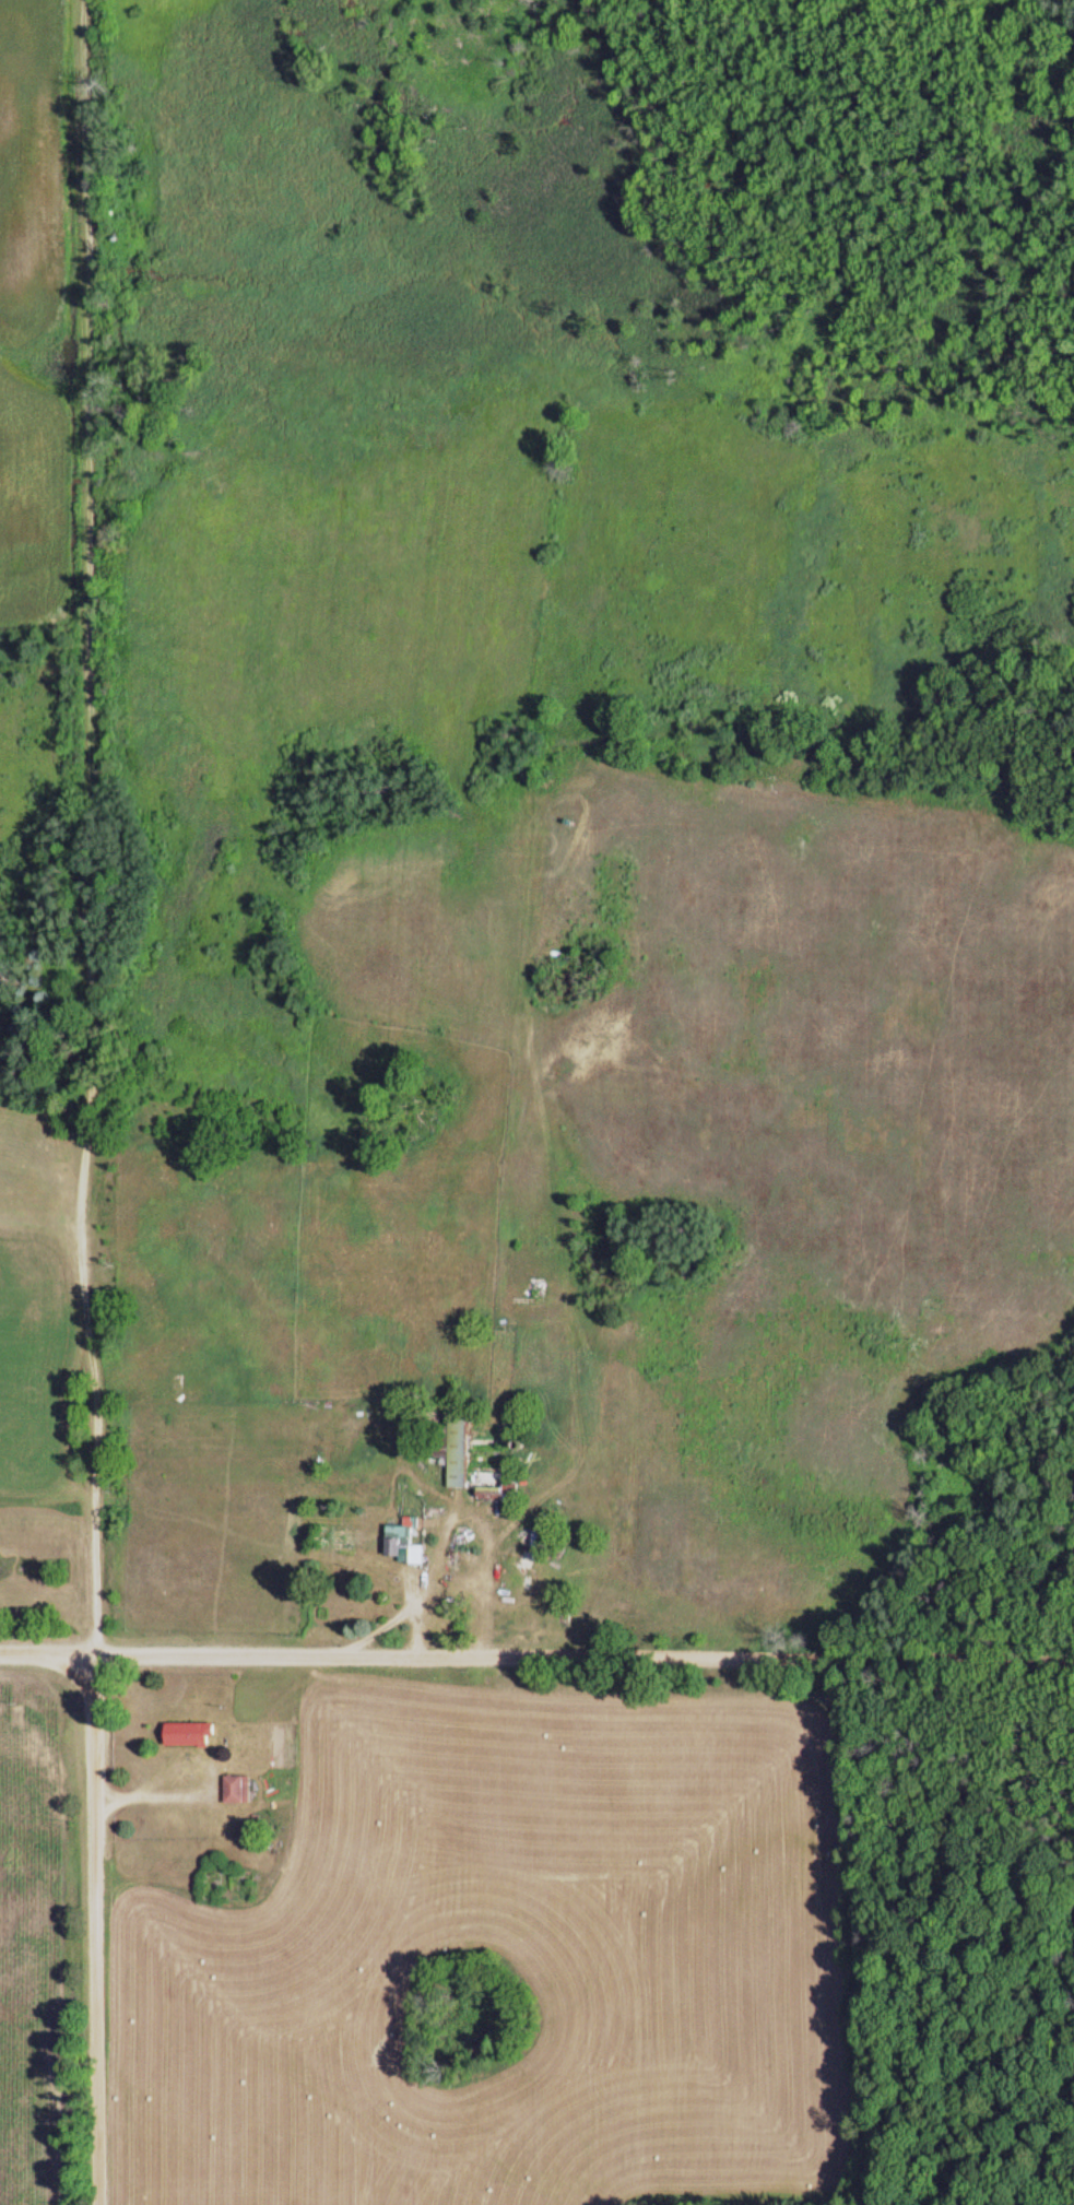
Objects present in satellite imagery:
road: (88, 1101)
building: (464, 1452)
building: (410, 1546)
building: (530, 1556)
building: (737, 1591)
road: (536, 1655)
building: (194, 1736)
building: (240, 1792)

